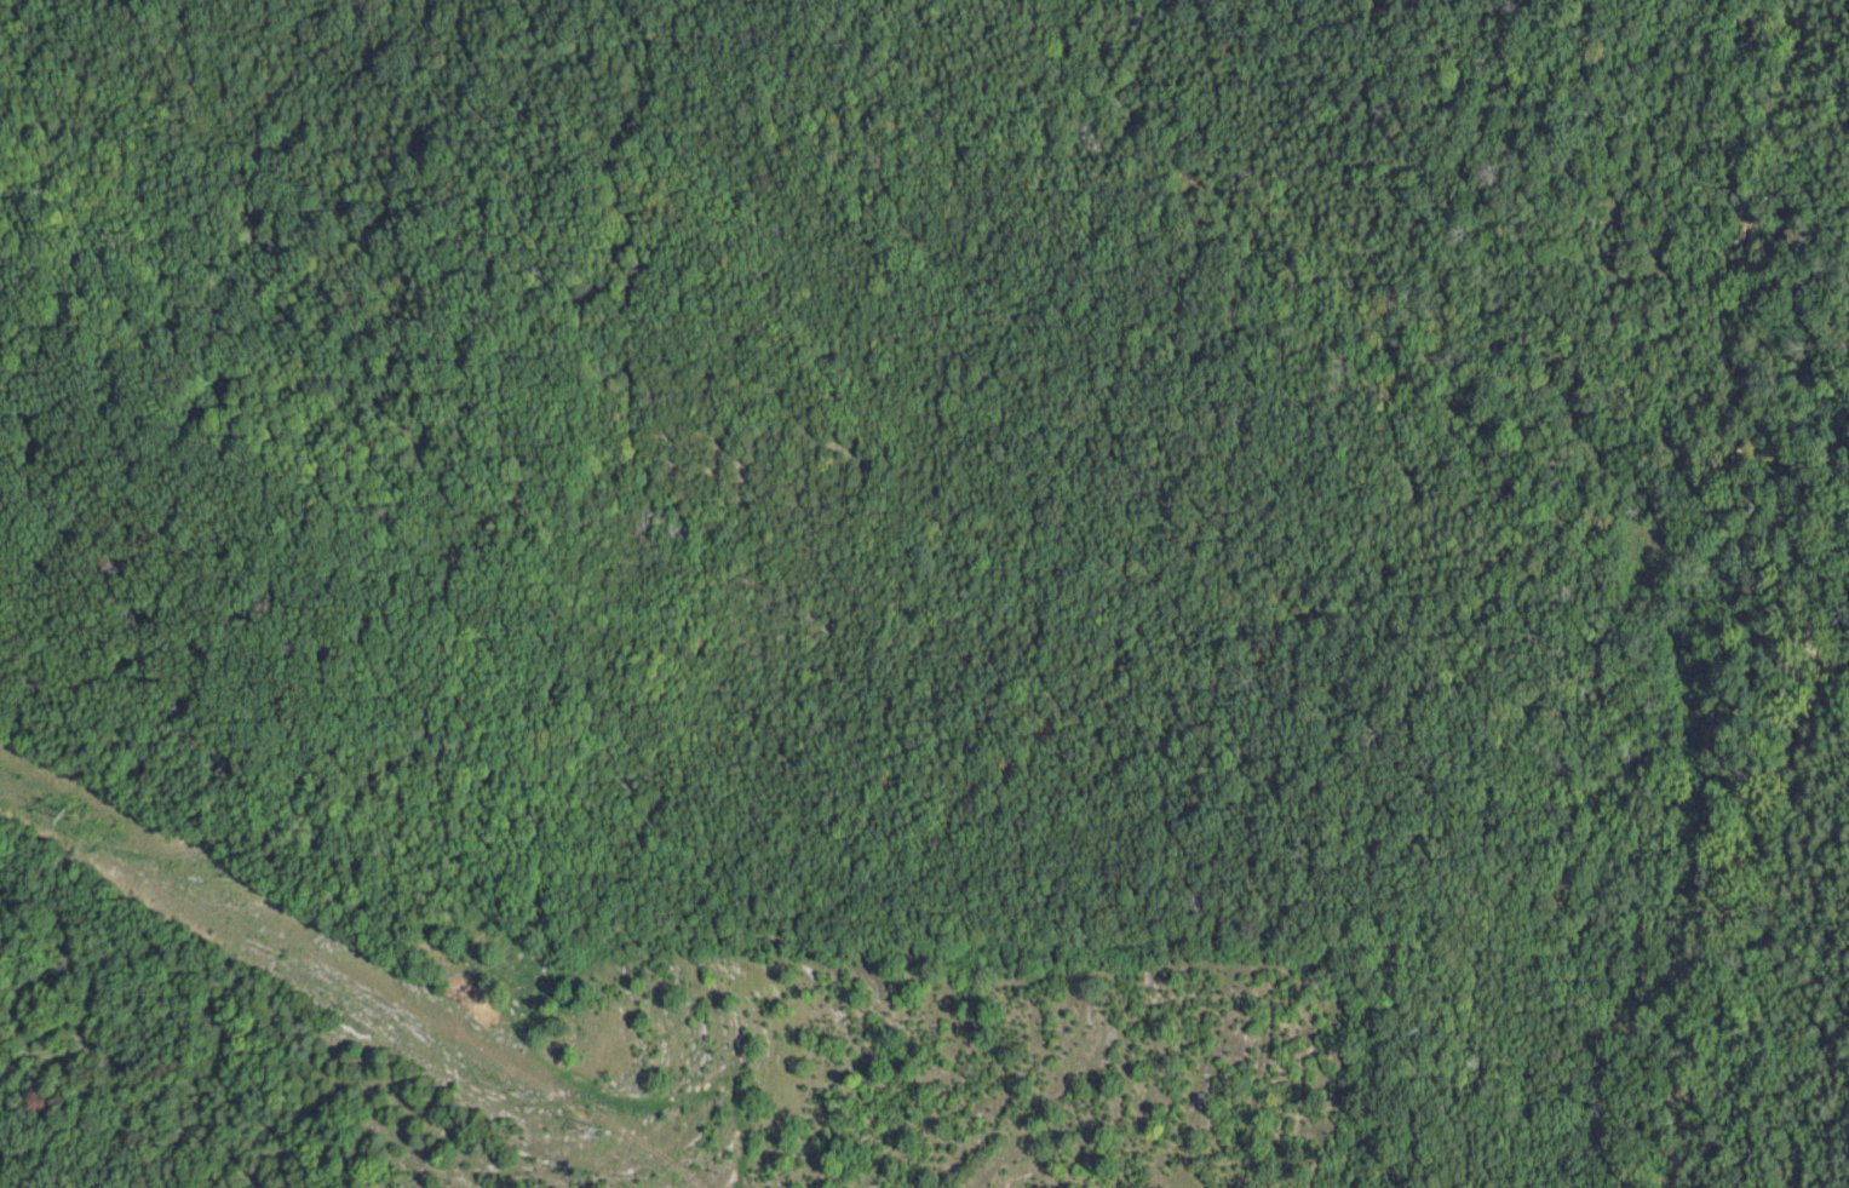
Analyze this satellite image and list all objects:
power tower: (75, 816)
power tower: (599, 1126)

